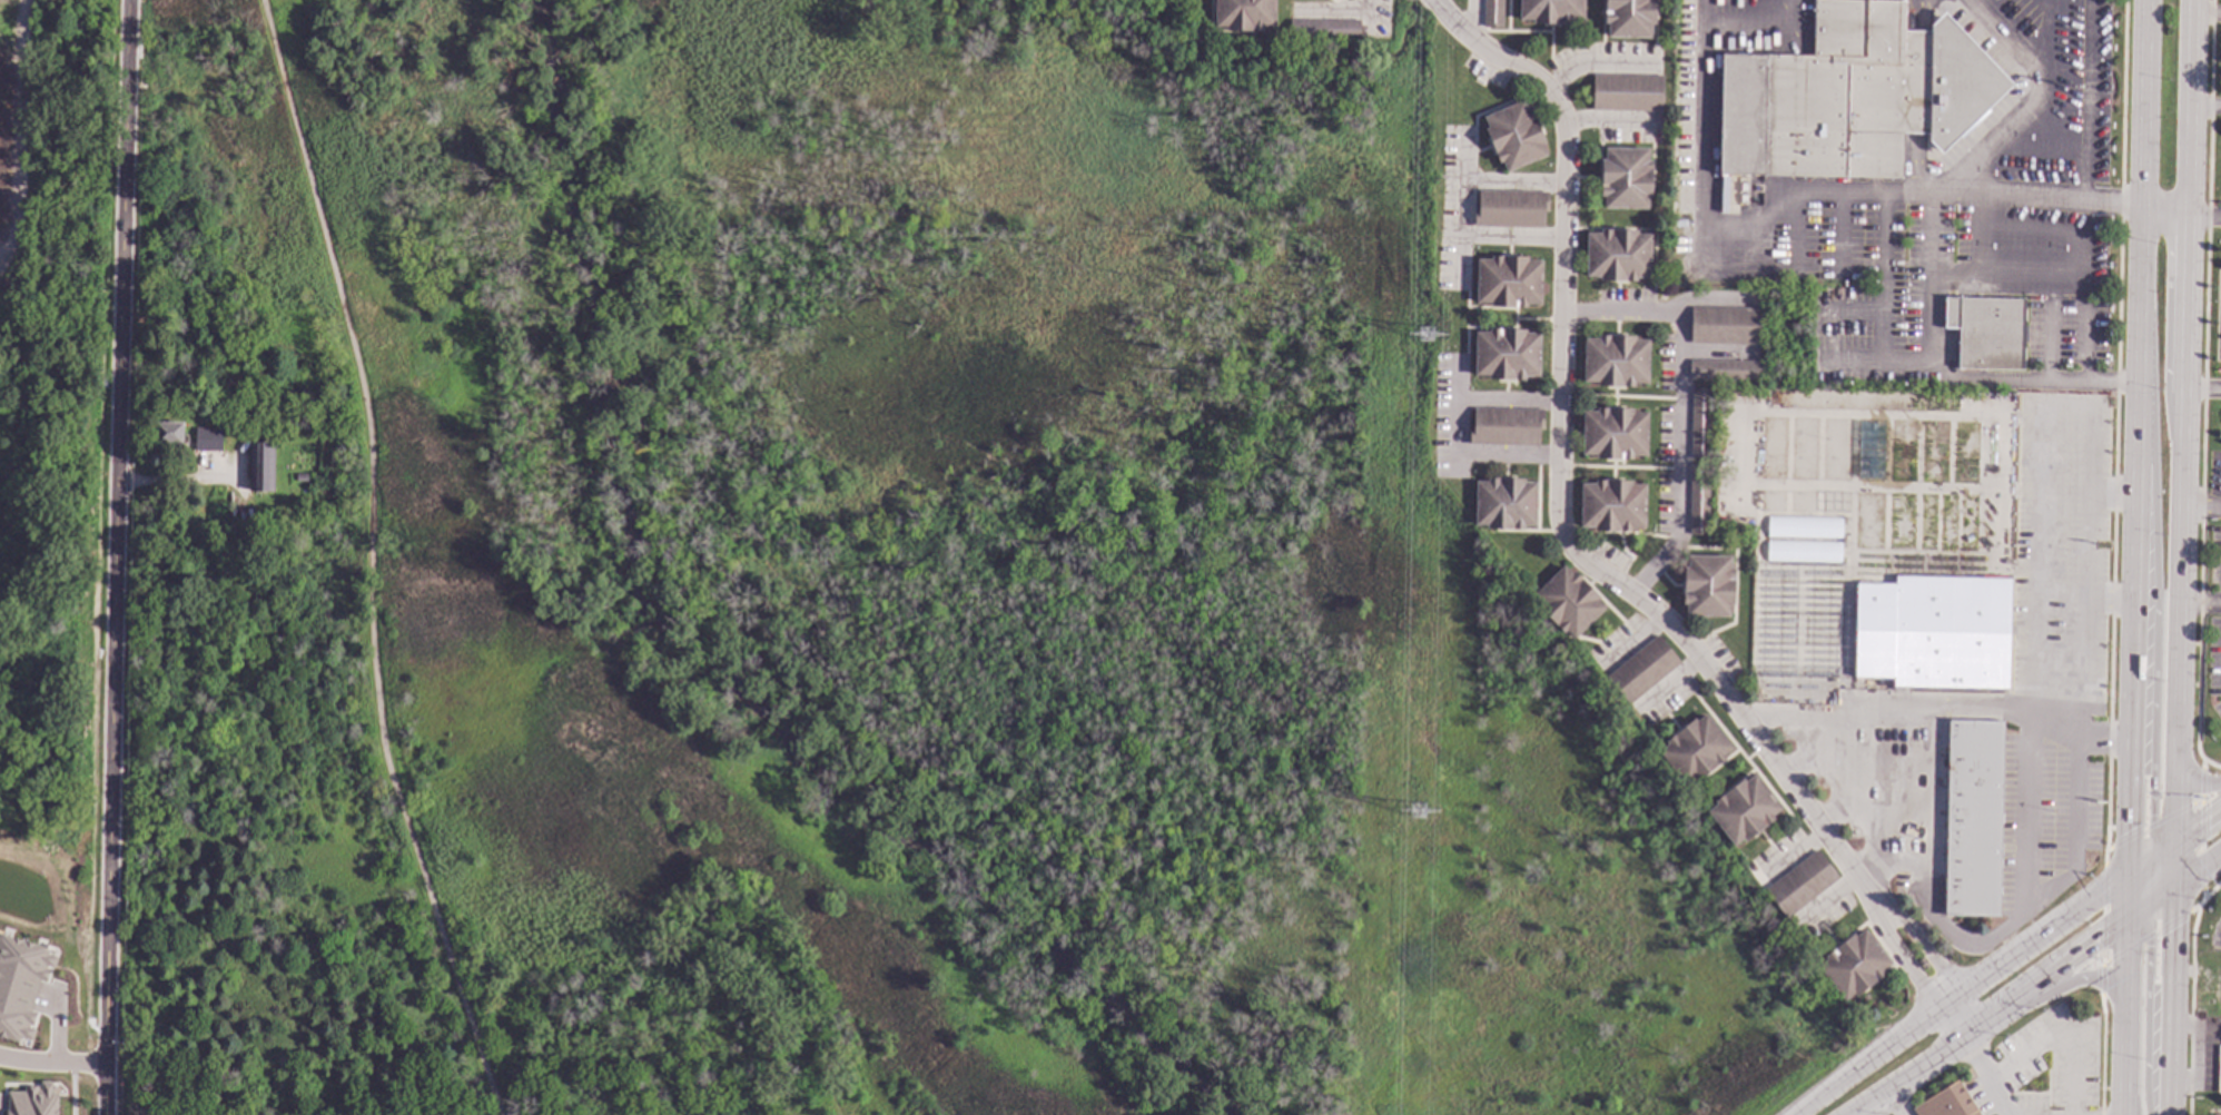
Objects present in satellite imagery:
road: (1365, 4)
building: (1551, 11)
building: (1245, 14)
building: (1492, 14)
road: (2208, 14)
building: (1629, 18)
building: (1324, 30)
road: (2193, 53)
building: (1627, 93)
building: (1852, 96)
road: (2142, 105)
road: (2207, 106)
road: (2025, 112)
road: (20, 130)
building: (1514, 137)
road: (2191, 161)
building: (1626, 179)
road: (1514, 184)
road: (1462, 186)
road: (2061, 200)
road: (1706, 206)
building: (1510, 210)
road: (2165, 213)
road: (2205, 217)
road: (1490, 238)
building: (1618, 256)
building: (1508, 283)
building: (1725, 327)
building: (1986, 332)
power tower: (1429, 335)
road: (2138, 353)
building: (1507, 355)
building: (1616, 362)
building: (1724, 371)
road: (1945, 371)
road: (2203, 389)
road: (1680, 402)
building: (1700, 424)
road: (1459, 426)
building: (1506, 428)
building: (168, 434)
building: (1615, 434)
building: (208, 440)
road: (2149, 450)
road: (1558, 464)
building: (260, 467)
building: (300, 477)
road: (177, 483)
road: (2112, 496)
road: (2144, 497)
building: (1699, 501)
building: (1504, 504)
building: (1612, 506)
road: (2203, 506)
building: (1805, 527)
road: (2184, 527)
building: (1804, 551)
road: (2037, 555)
road: (116, 556)
road: (371, 560)
building: (1708, 586)
park: (858, 599)
road: (2202, 602)
building: (1568, 603)
river: (727, 630)
building: (1934, 633)
building: (1642, 671)
road: (2154, 675)
road: (2130, 684)
road: (1980, 709)
road: (1837, 717)
road: (2076, 732)
road: (2080, 734)
building: (1695, 750)
road: (1855, 767)
road: (2193, 778)
road: (2201, 778)
road: (2195, 801)
building: (1744, 810)
power tower: (1420, 812)
road: (1874, 817)
traffic signals: (2151, 817)
building: (1972, 818)
traffic signals: (2207, 818)
road: (2199, 822)
road: (1931, 826)
traffic signals: (2129, 830)
road: (2166, 846)
road: (2141, 862)
road: (2176, 862)
road: (2198, 869)
road: (2162, 871)
building: (1800, 885)
road: (2143, 885)
road: (2126, 896)
road: (2162, 896)
road: (2138, 912)
traffic signals: (2174, 928)
road: (1962, 941)
traffic signals: (2096, 941)
road: (1923, 946)
traffic signals: (2149, 946)
road: (2109, 957)
road: (1903, 959)
building: (1922, 965)
building: (1854, 966)
road: (2102, 977)
road: (2072, 980)
building: (21, 985)
road: (1957, 988)
road: (2172, 1000)
road: (2146, 1010)
road: (2123, 1017)
road: (1985, 1018)
road: (53, 1063)
building: (2219, 1069)
road: (1987, 1074)
building: (32, 1101)
road: (1892, 1102)
building: (1947, 1103)

